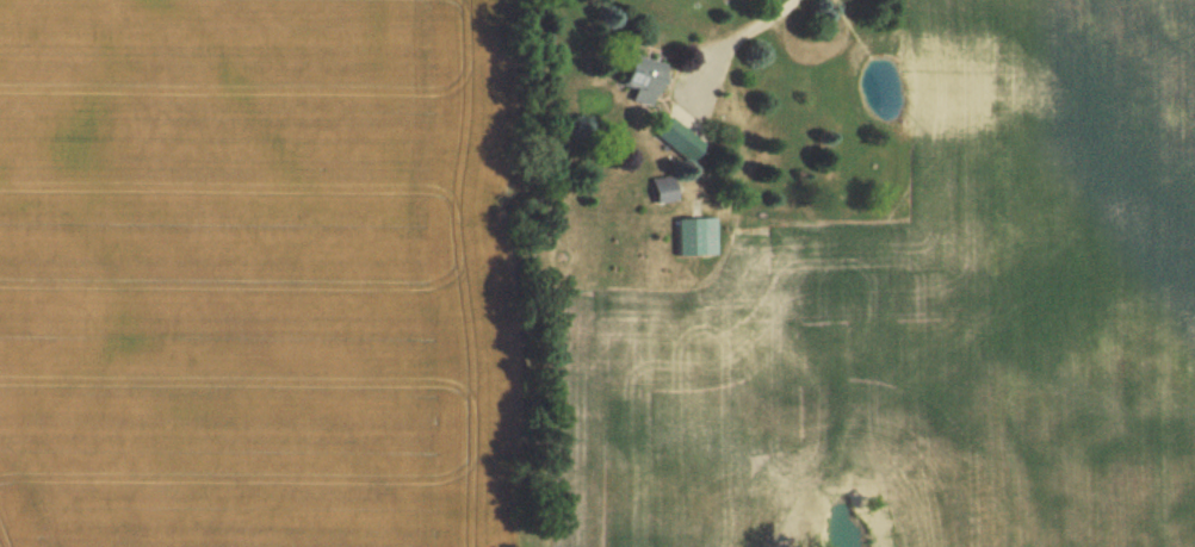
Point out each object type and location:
building: (636, 77)
building: (673, 137)
building: (660, 189)
building: (686, 236)

